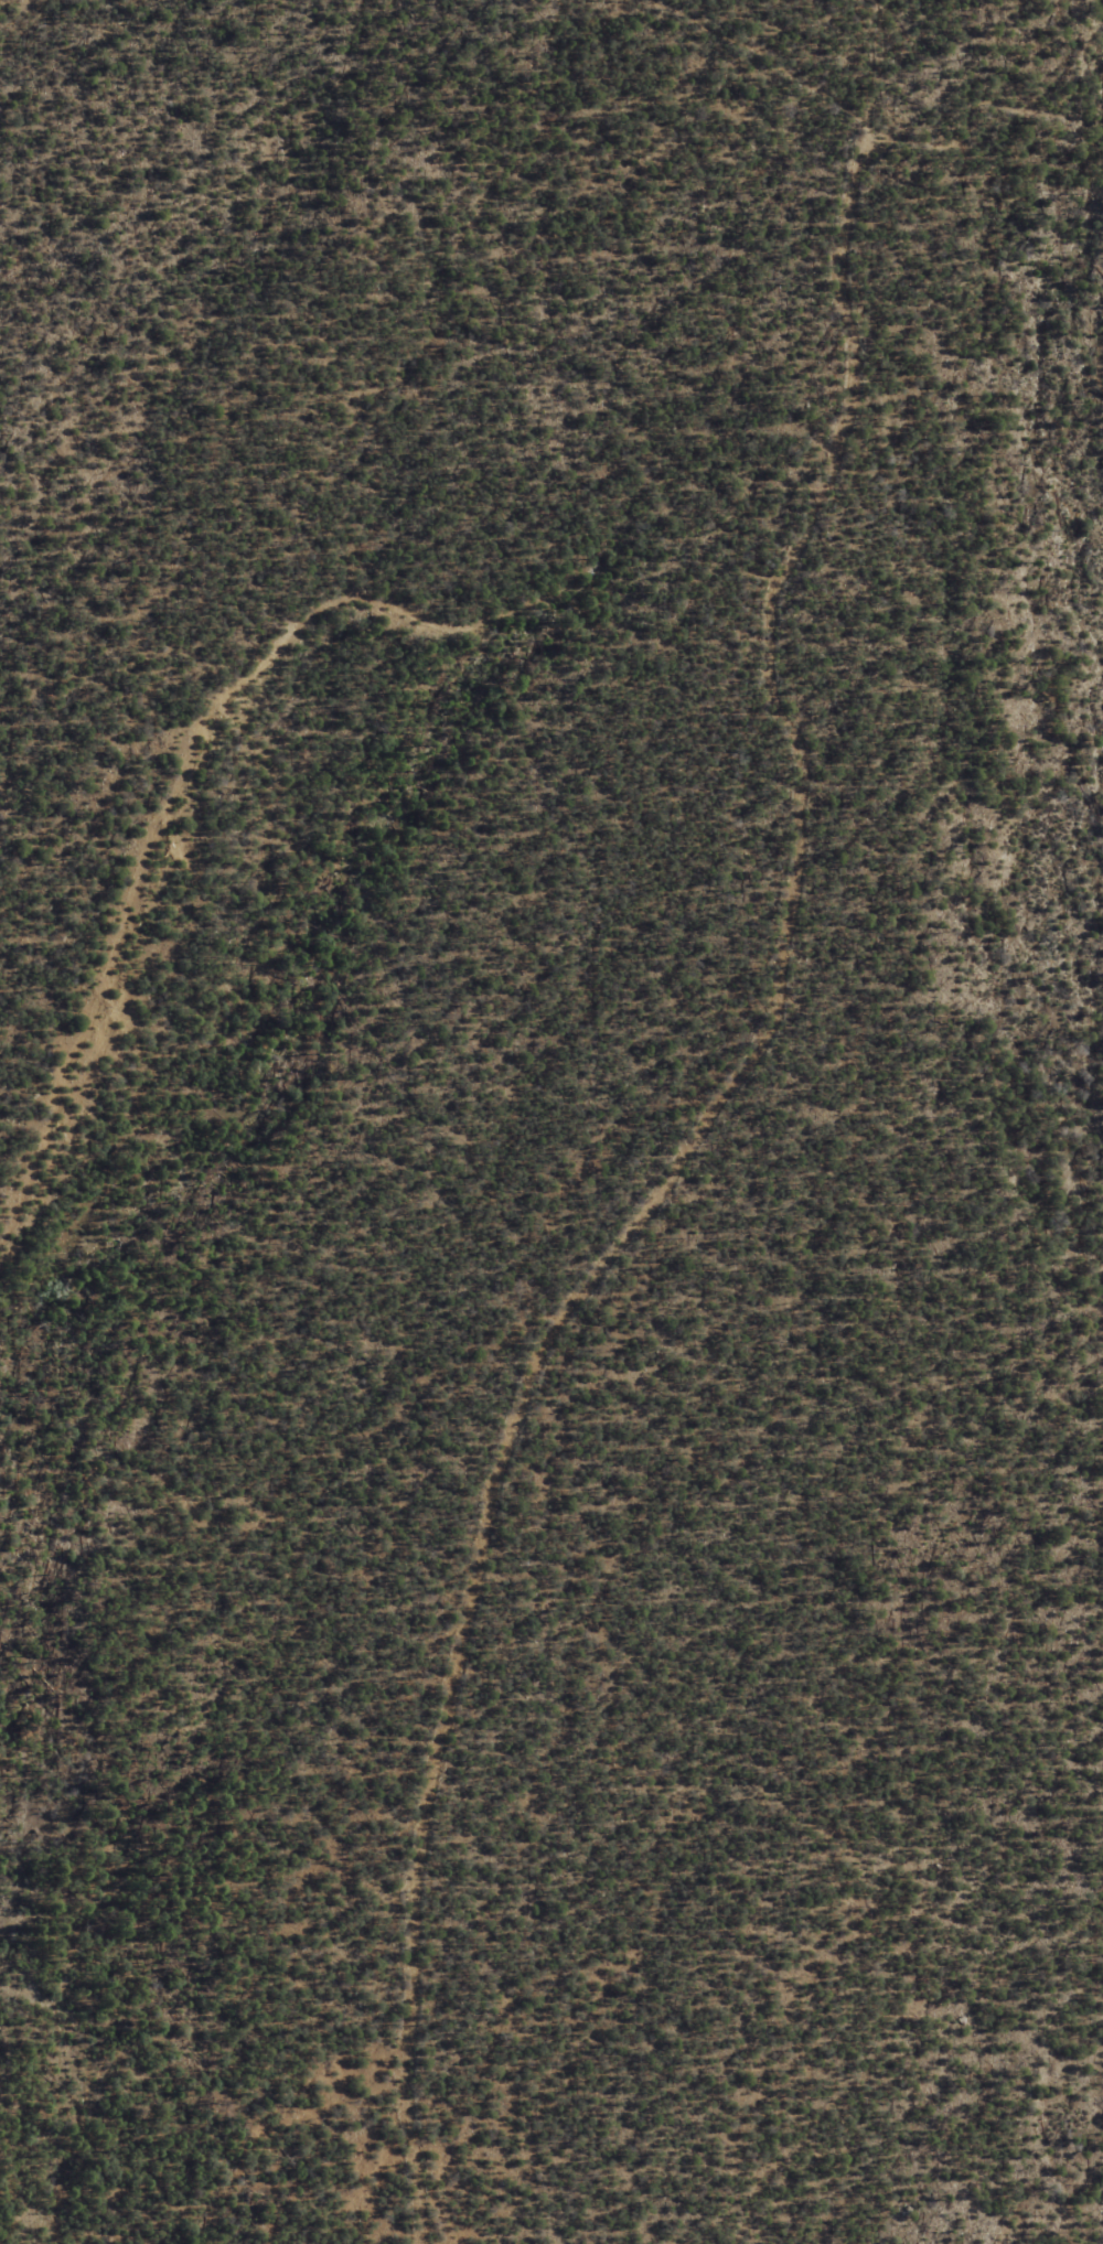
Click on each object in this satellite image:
road: (877, 66)
road: (866, 131)

